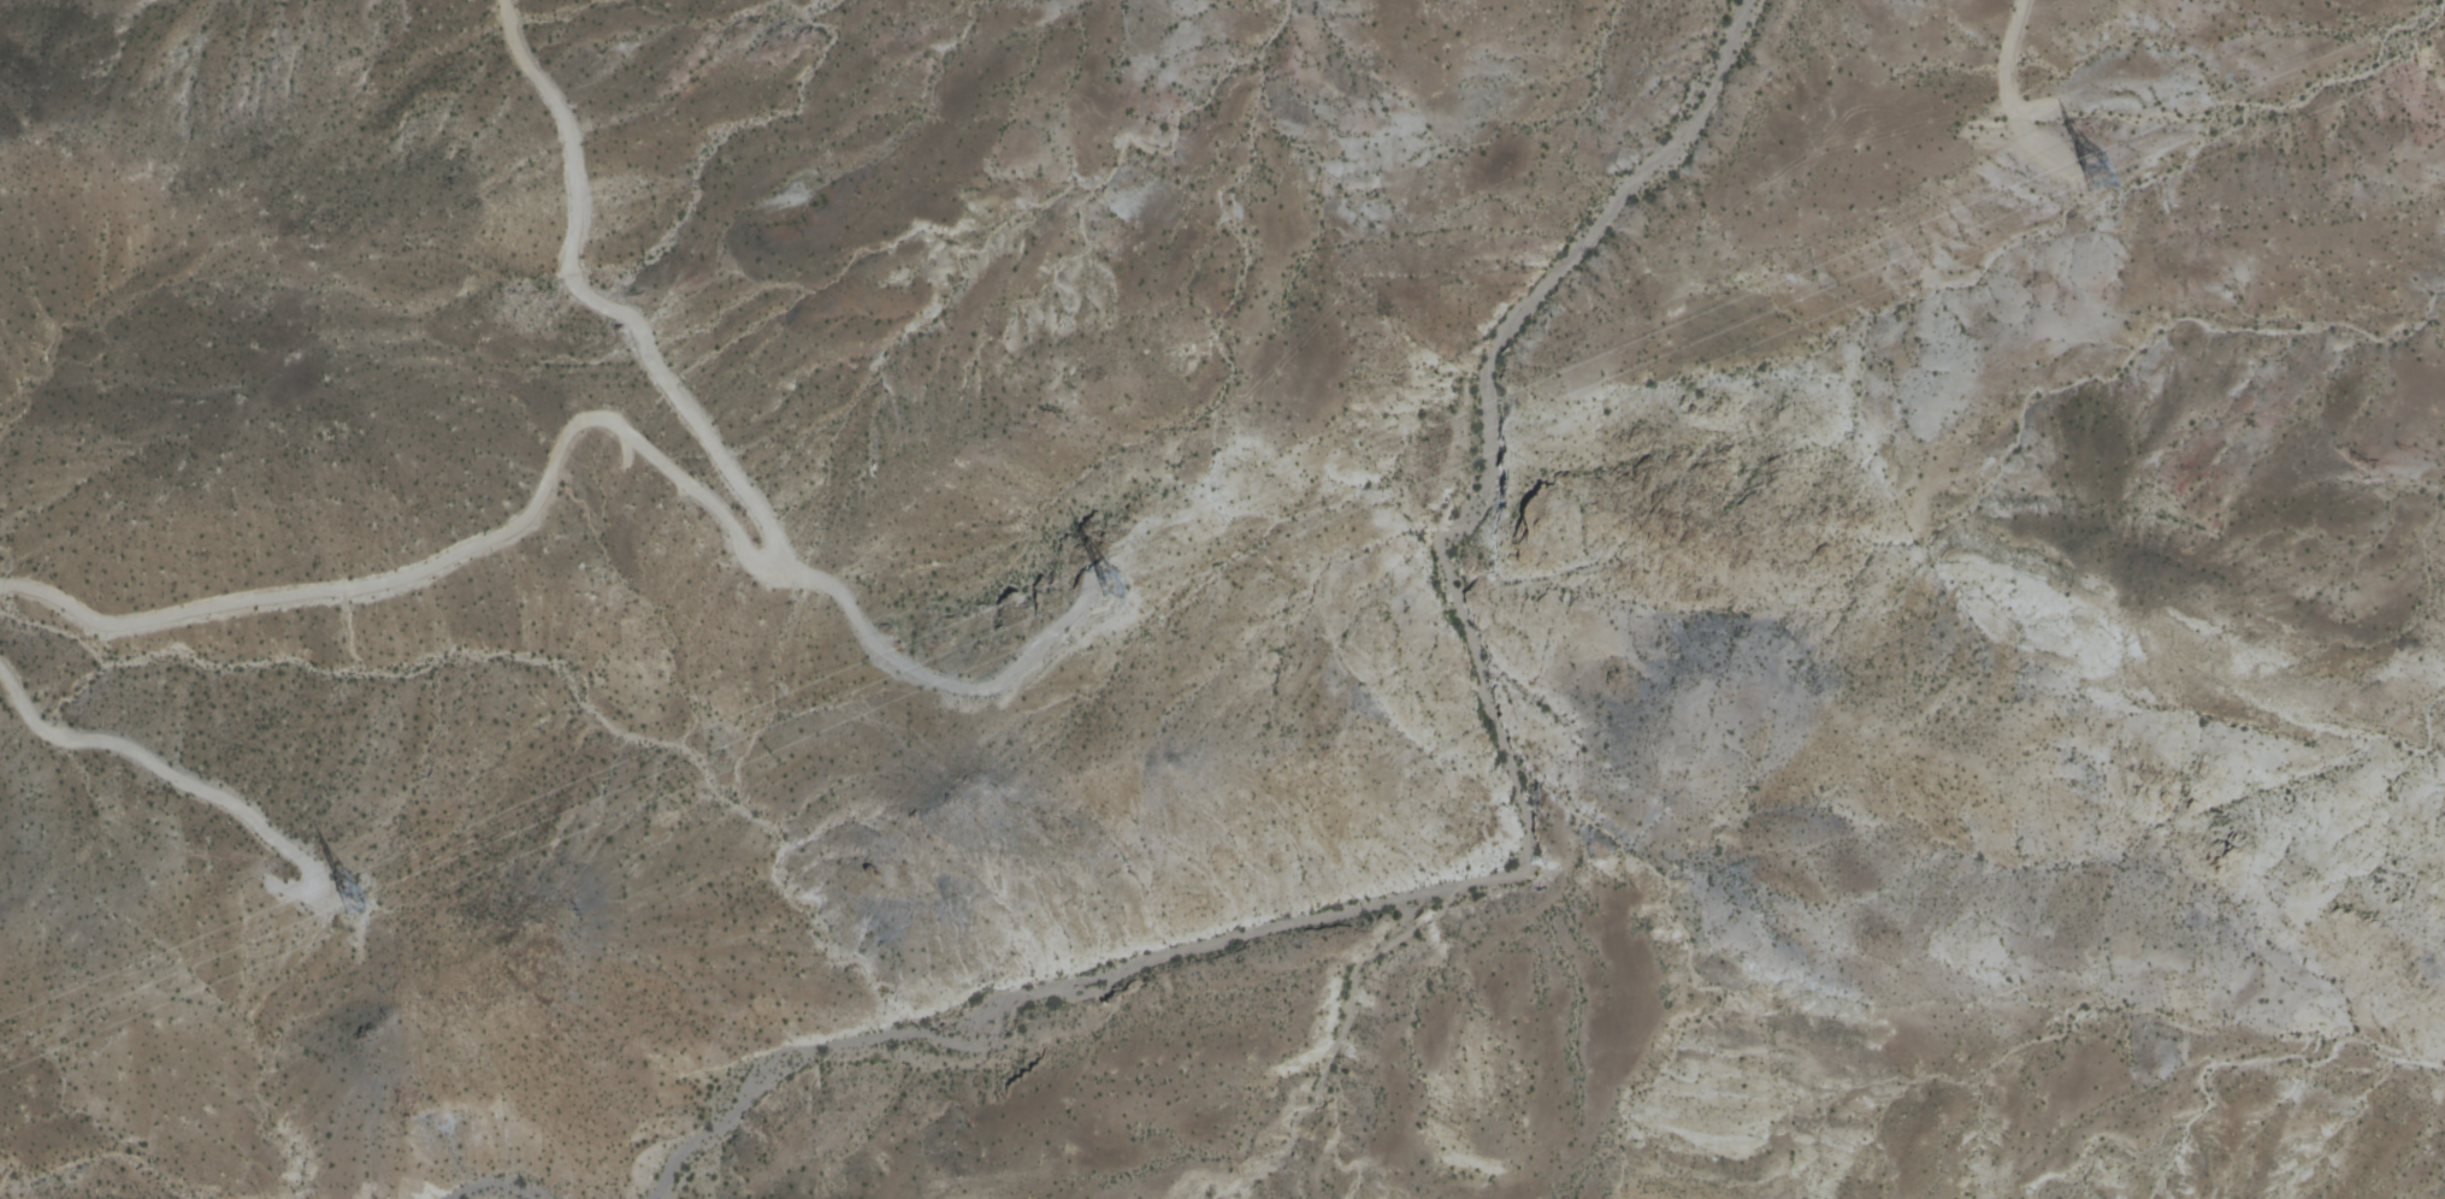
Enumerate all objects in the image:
power tower: (2084, 167)
power tower: (1120, 585)
power tower: (343, 900)

